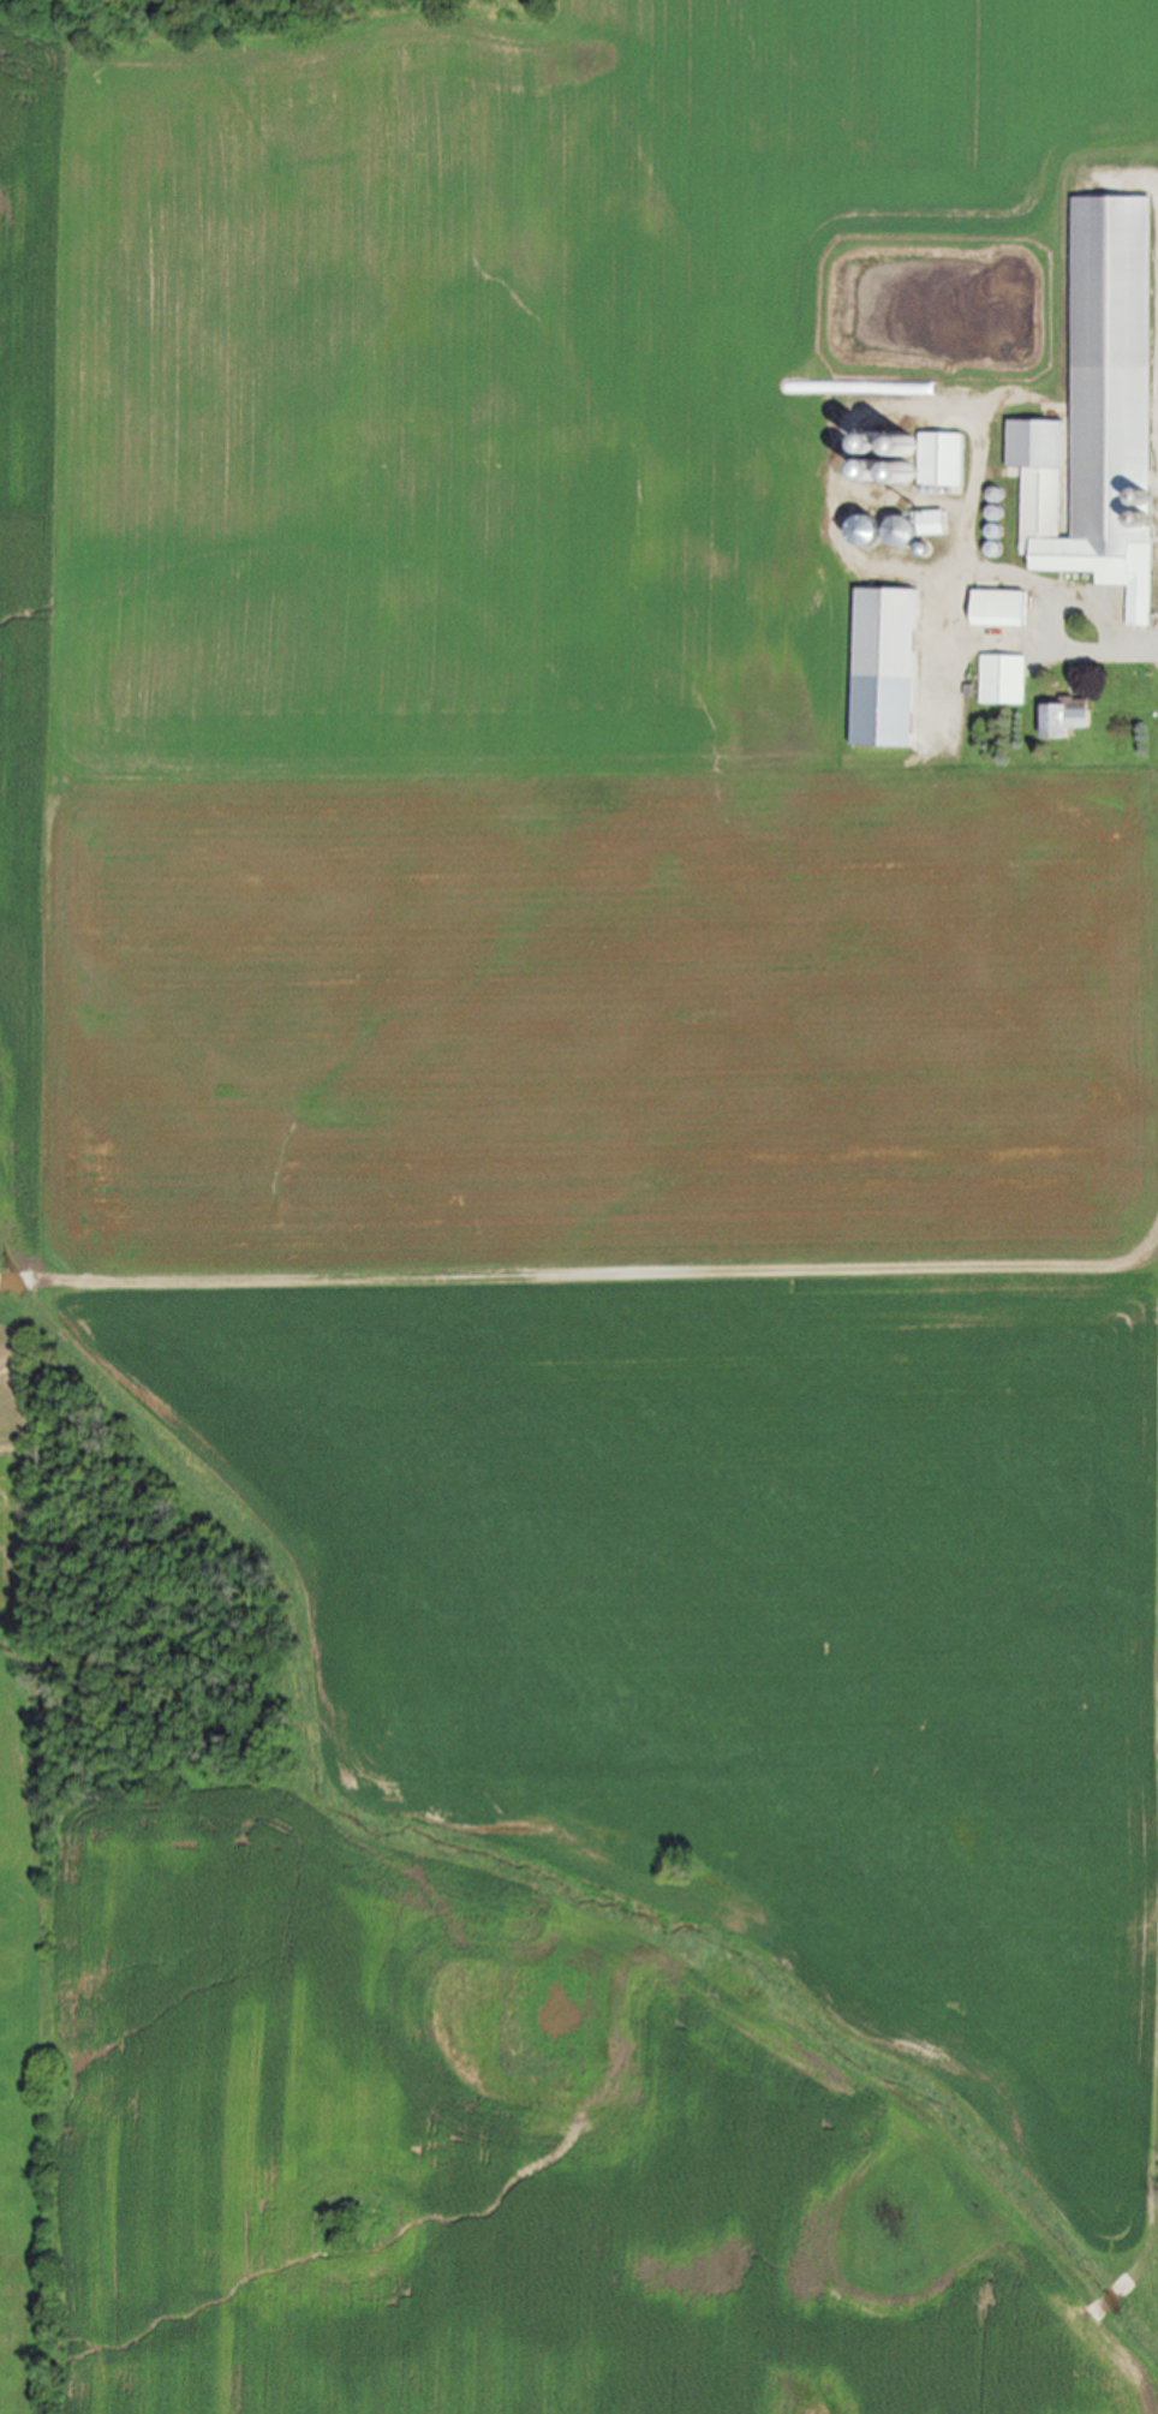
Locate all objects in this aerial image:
building: (1097, 411)
building: (938, 459)
building: (893, 527)
road: (1056, 606)
building: (997, 608)
road: (1139, 648)
building: (881, 667)
building: (1001, 679)
building: (1062, 717)

